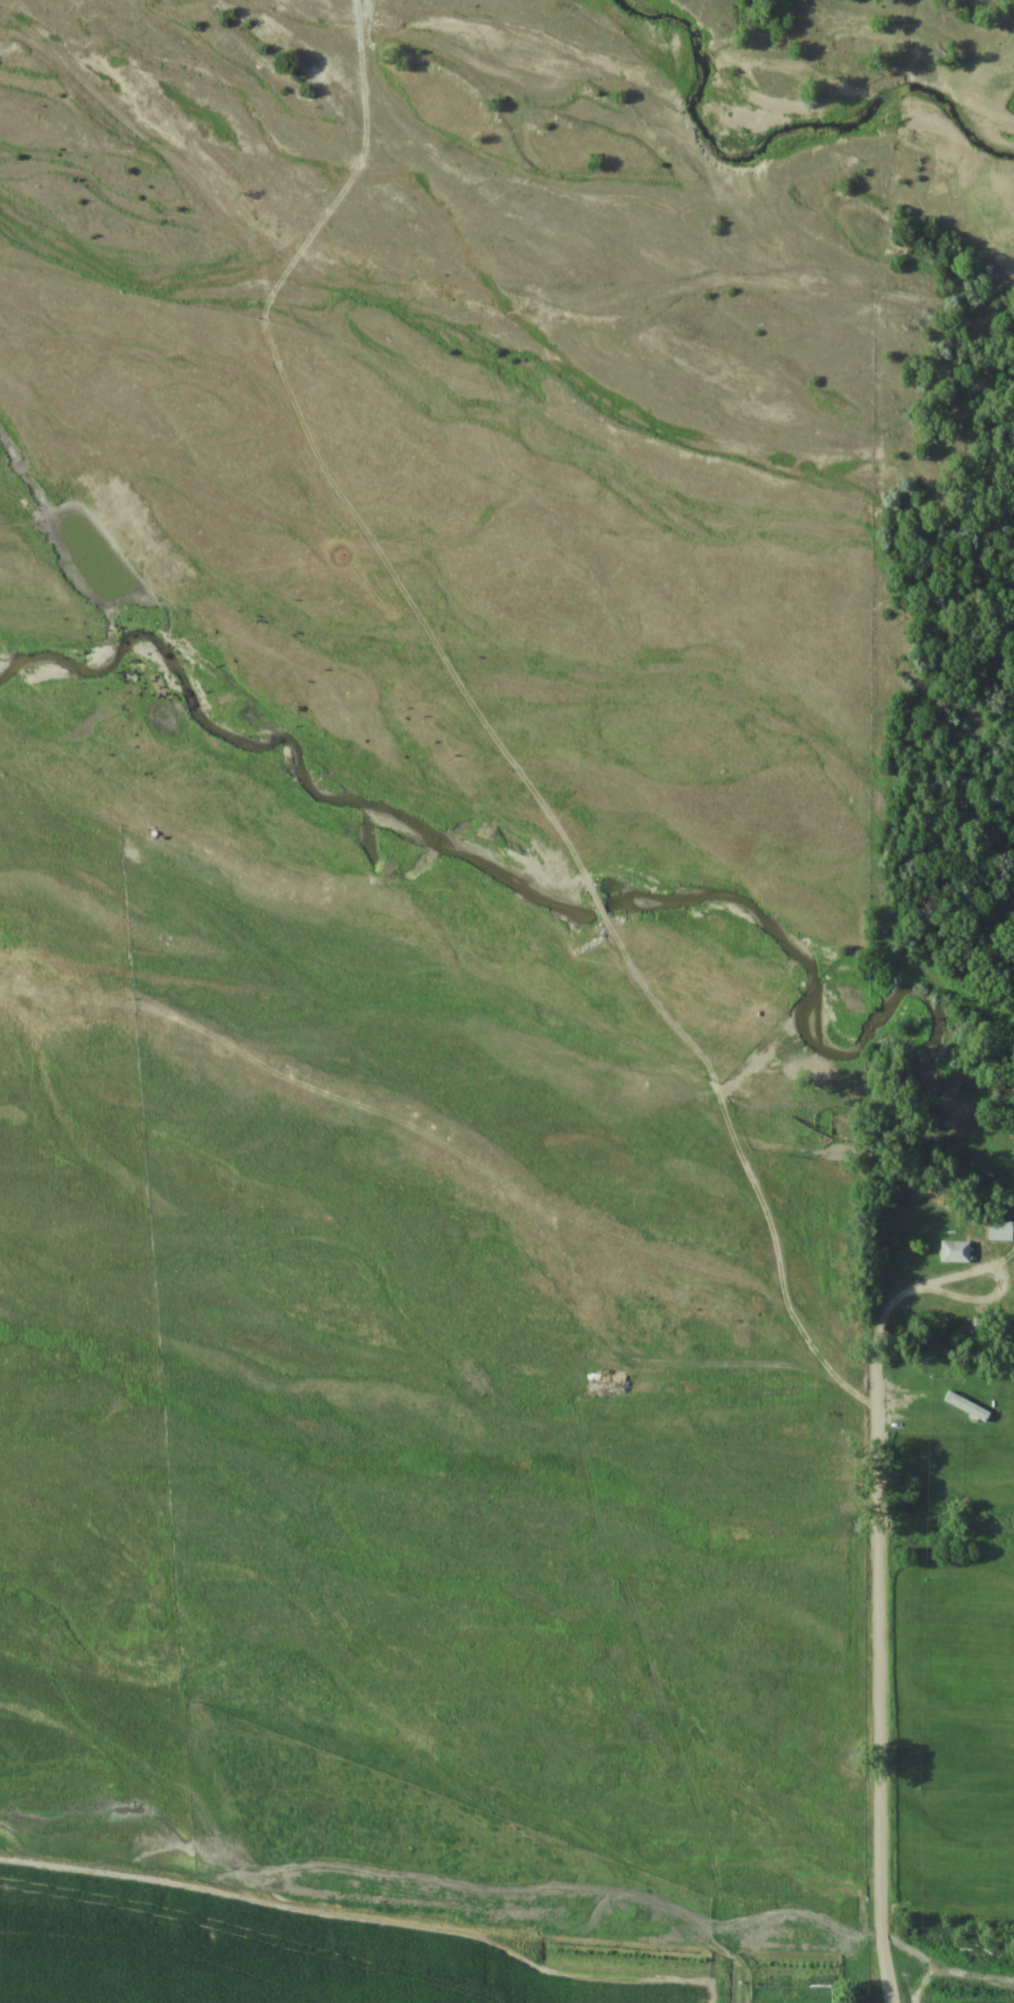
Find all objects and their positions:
building: (1001, 1232)
building: (956, 1252)
road: (984, 1281)
road: (897, 1302)
building: (968, 1407)
road: (876, 1634)
road: (880, 1973)

